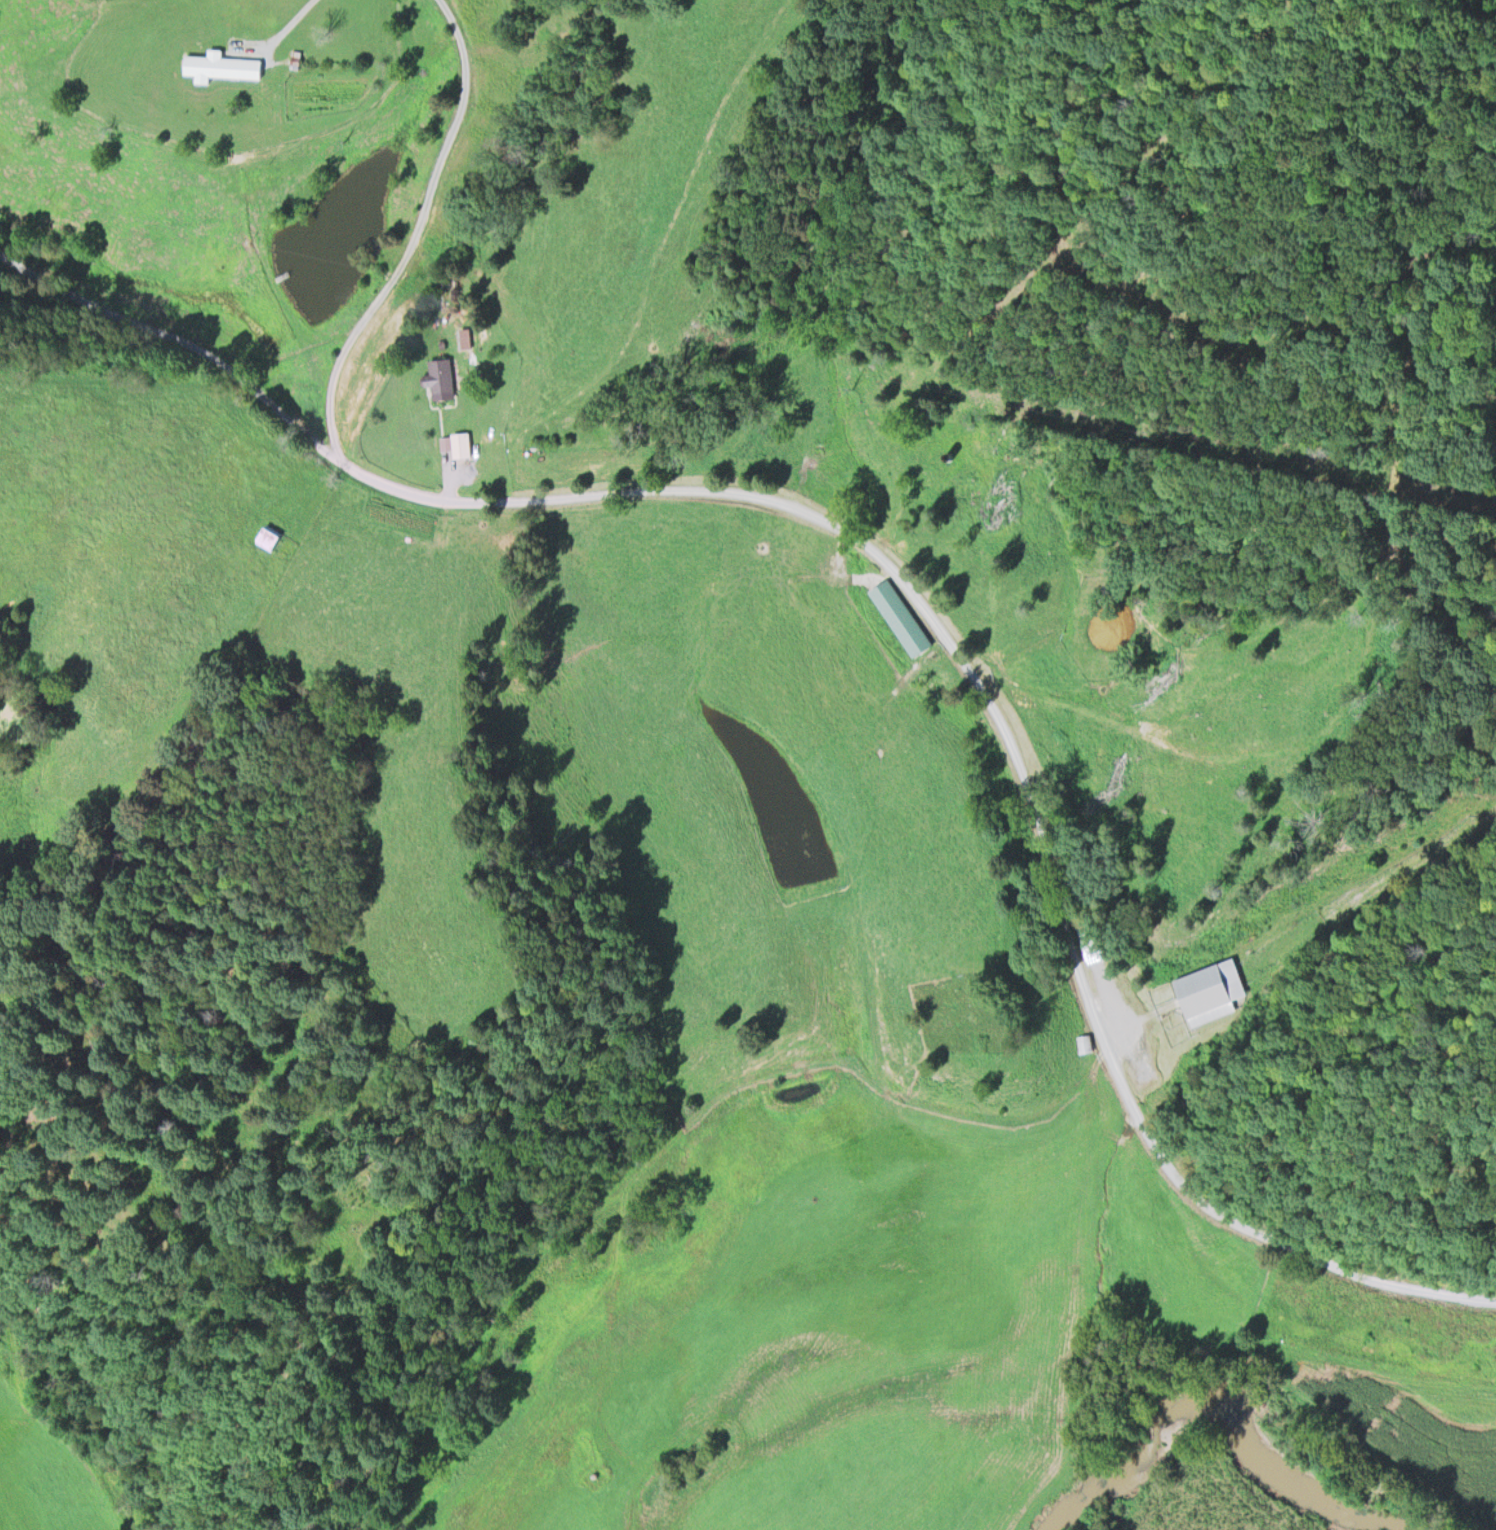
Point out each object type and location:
road: (278, 33)
building: (296, 57)
building: (223, 64)
road: (415, 237)
building: (440, 374)
building: (456, 445)
building: (269, 535)
road: (909, 584)
building: (898, 615)
crop: (708, 990)
building: (1212, 992)
building: (1084, 1040)
building: (1140, 1059)
road: (671, 1133)
river: (1247, 1396)
crop: (40, 1480)

